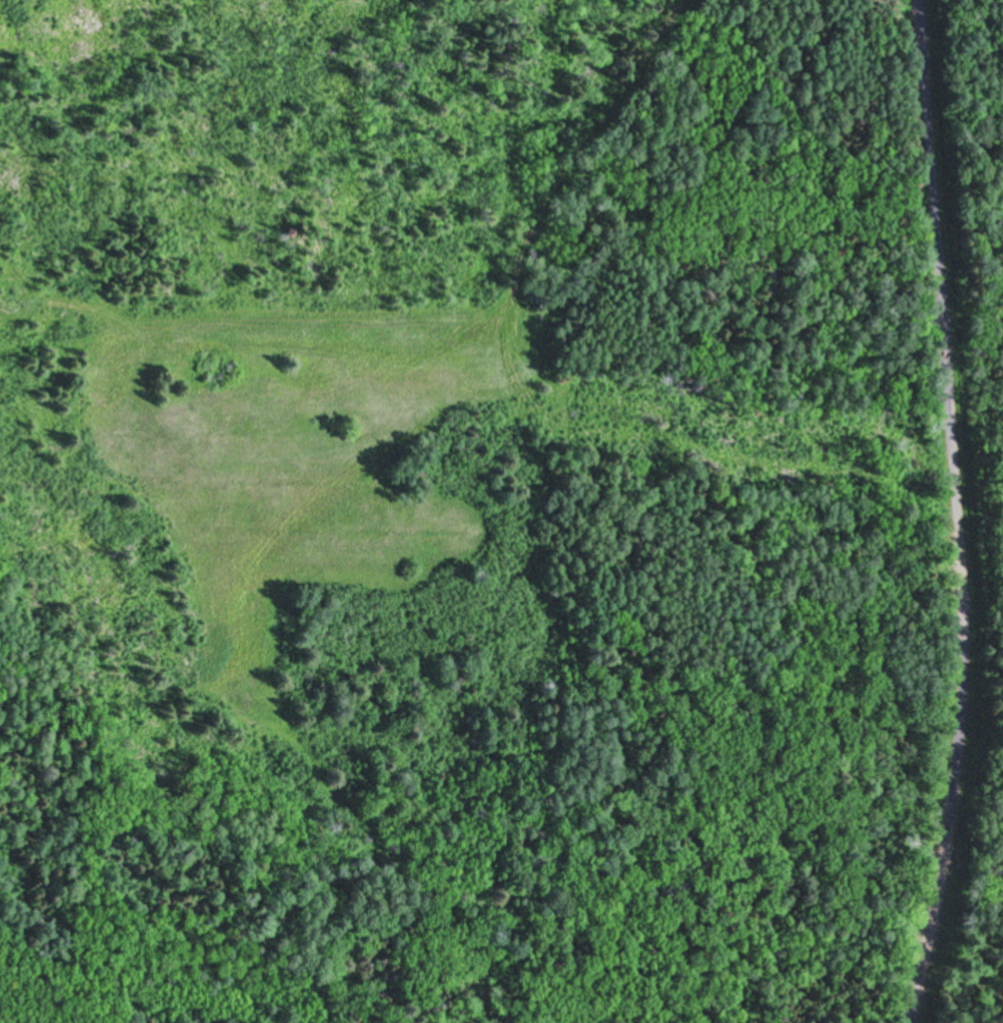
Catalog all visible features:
road: (964, 513)

